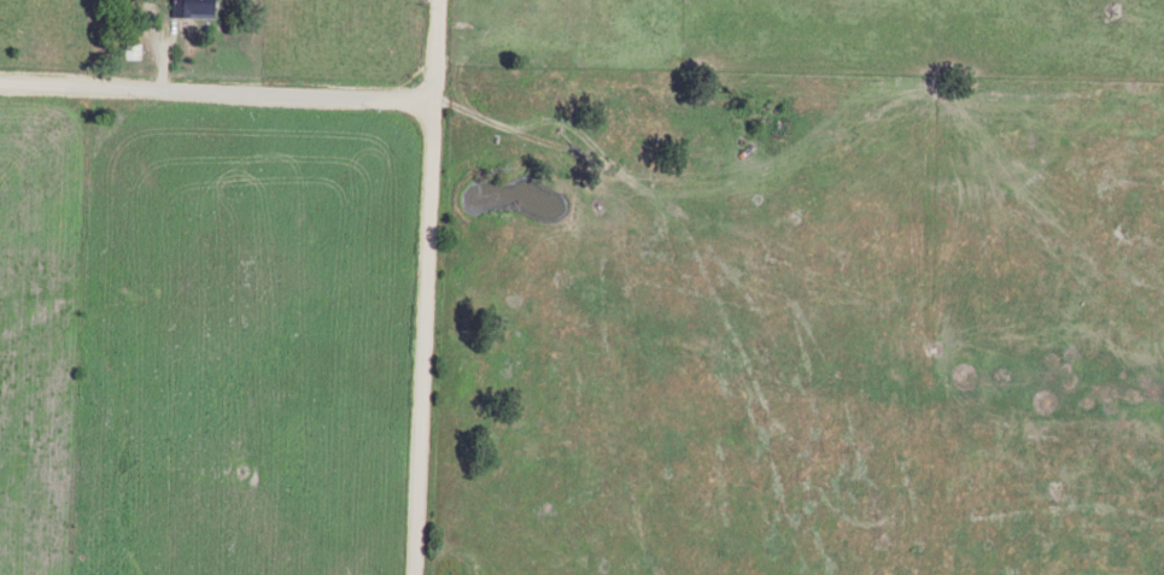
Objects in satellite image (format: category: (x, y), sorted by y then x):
building: (188, 8)
road: (216, 93)
road: (423, 287)

